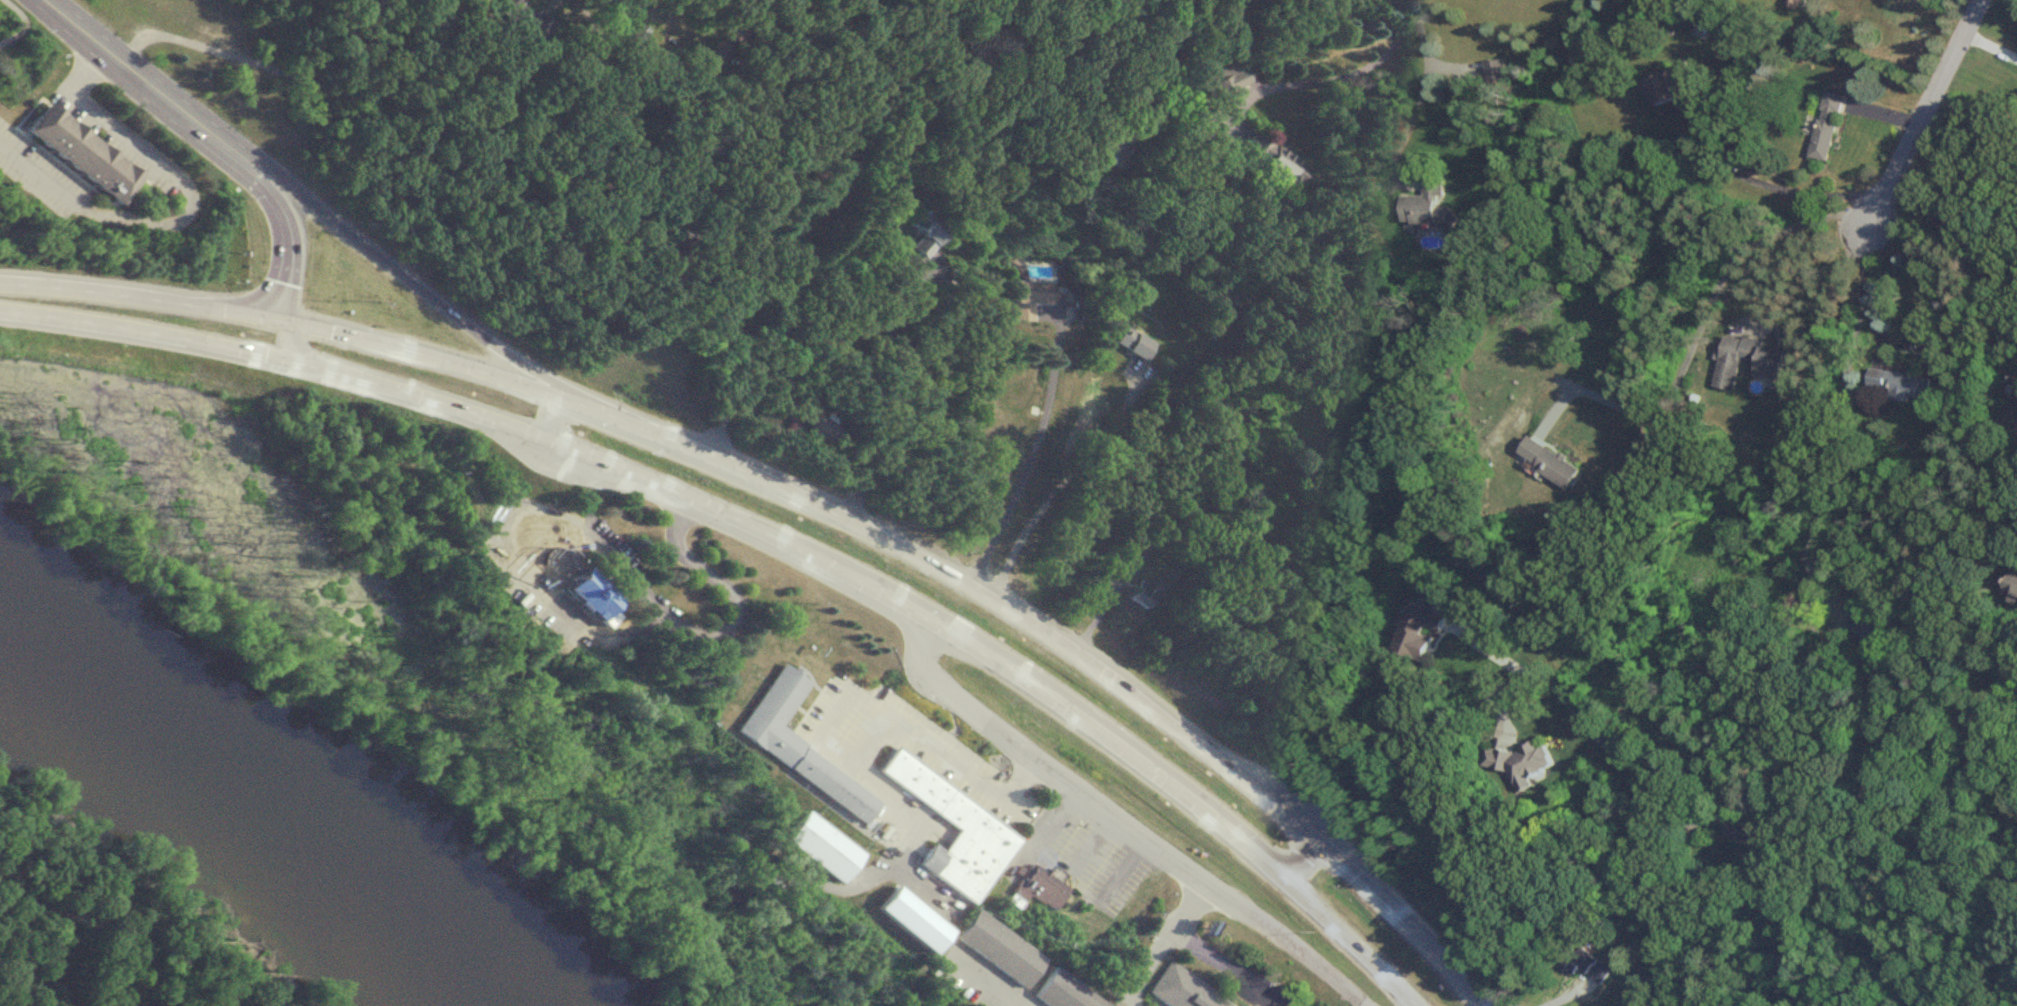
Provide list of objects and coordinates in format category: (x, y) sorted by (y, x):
building: (1793, 3)
road: (12, 15)
building: (523, 15)
building: (635, 34)
road: (624, 53)
road: (1162, 70)
building: (1498, 73)
road: (1328, 75)
building: (1223, 79)
building: (1669, 86)
road: (163, 92)
road: (1422, 92)
road: (1925, 108)
road: (433, 120)
building: (1827, 126)
building: (1111, 147)
building: (82, 152)
building: (1270, 160)
road: (1766, 184)
road: (189, 200)
building: (1430, 207)
building: (928, 231)
road: (294, 250)
road: (433, 295)
road: (143, 296)
building: (1032, 296)
road: (1937, 304)
traffic signals: (286, 318)
road: (2003, 325)
road: (1699, 326)
road: (154, 332)
road: (1979, 335)
building: (1137, 342)
road: (291, 343)
road: (750, 354)
building: (1751, 361)
traffic signals: (308, 364)
building: (1901, 384)
road: (913, 386)
road: (1837, 409)
road: (558, 410)
building: (2008, 418)
building: (822, 428)
road: (1031, 446)
building: (1551, 462)
road: (1059, 482)
building: (1136, 555)
road: (936, 566)
road: (535, 579)
building: (2013, 586)
building: (1143, 591)
building: (591, 592)
road: (907, 607)
building: (1864, 624)
road: (720, 629)
building: (1420, 629)
road: (841, 702)
building: (798, 742)
building: (1519, 762)
building: (943, 798)
road: (1648, 805)
river: (241, 815)
road: (1680, 822)
road: (1124, 824)
traffic signals: (1302, 833)
building: (1754, 839)
building: (822, 845)
road: (1282, 861)
building: (1039, 883)
park: (125, 926)
road: (1159, 941)
building: (1000, 946)
building: (1584, 963)
road: (1229, 966)
road: (985, 985)
building: (1185, 989)
building: (1066, 992)

